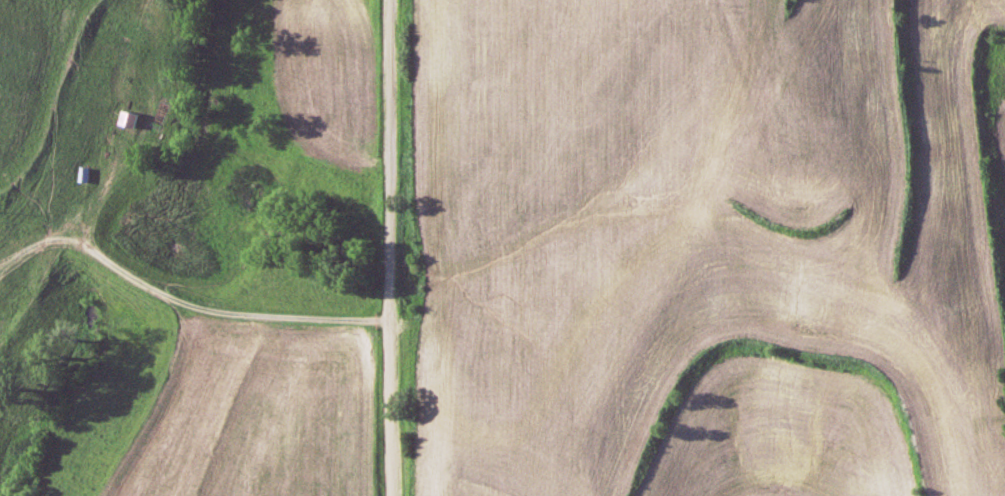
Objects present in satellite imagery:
road: (393, 248)

